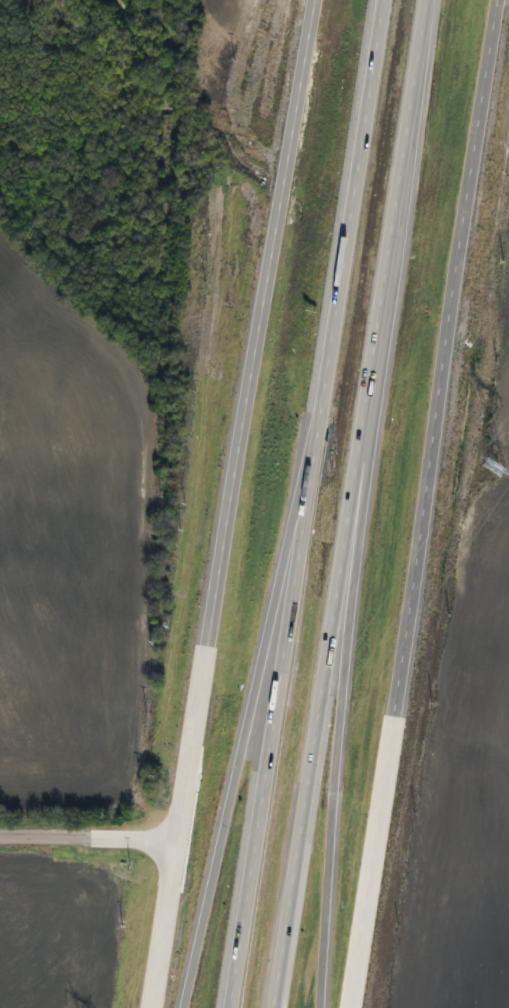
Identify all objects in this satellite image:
road: (236, 503)
road: (305, 503)
road: (346, 503)
road: (410, 504)
power tower: (452, 526)
road: (319, 809)
road: (227, 827)
road: (94, 837)

